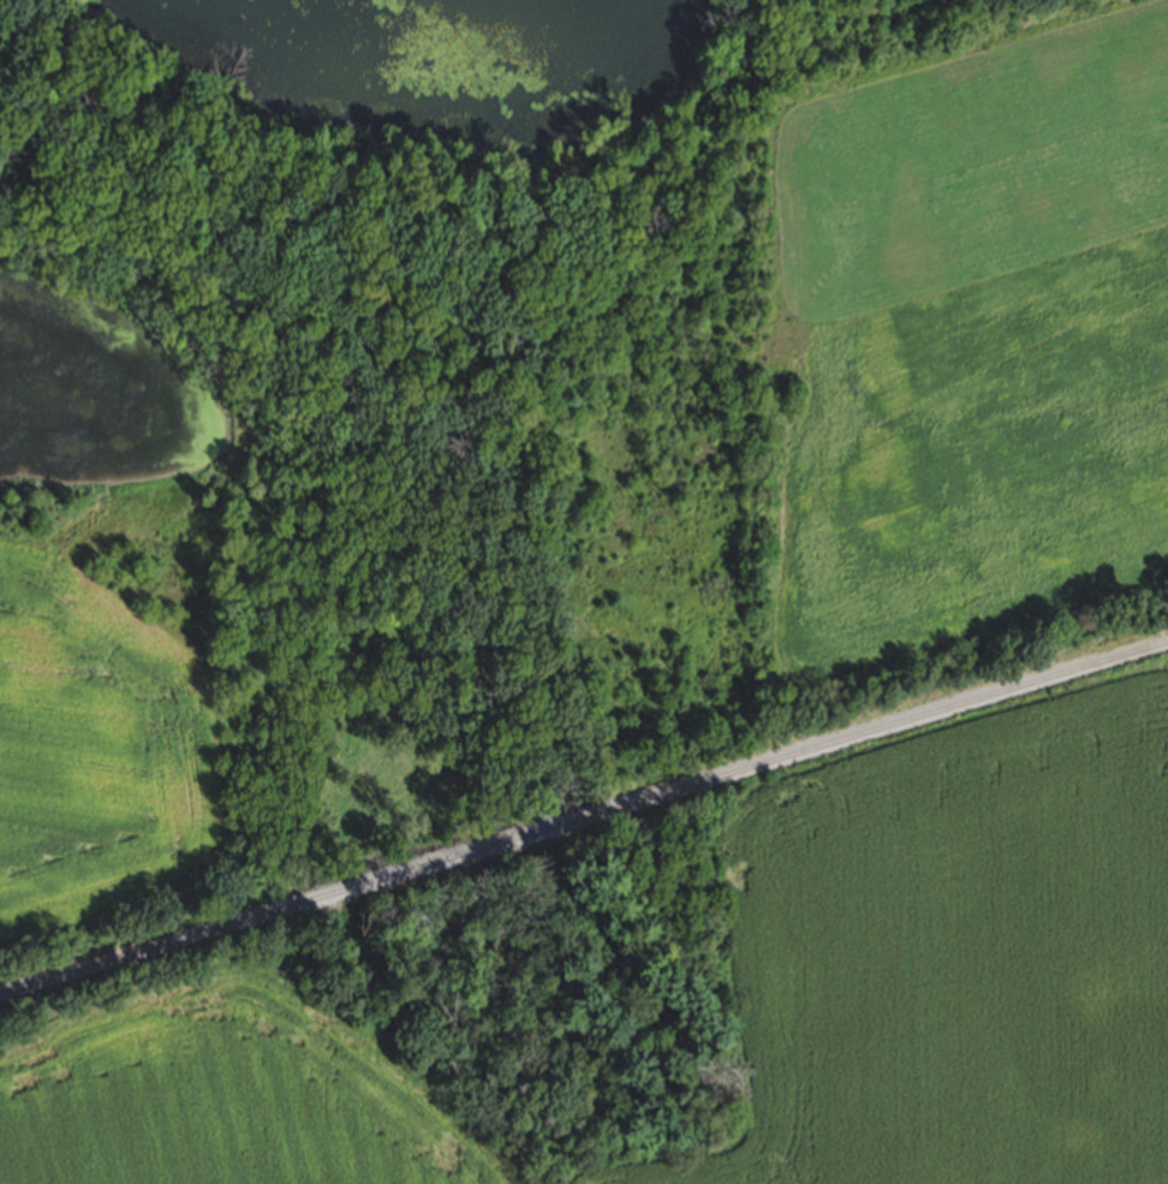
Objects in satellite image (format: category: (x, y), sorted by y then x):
railway: (584, 815)

